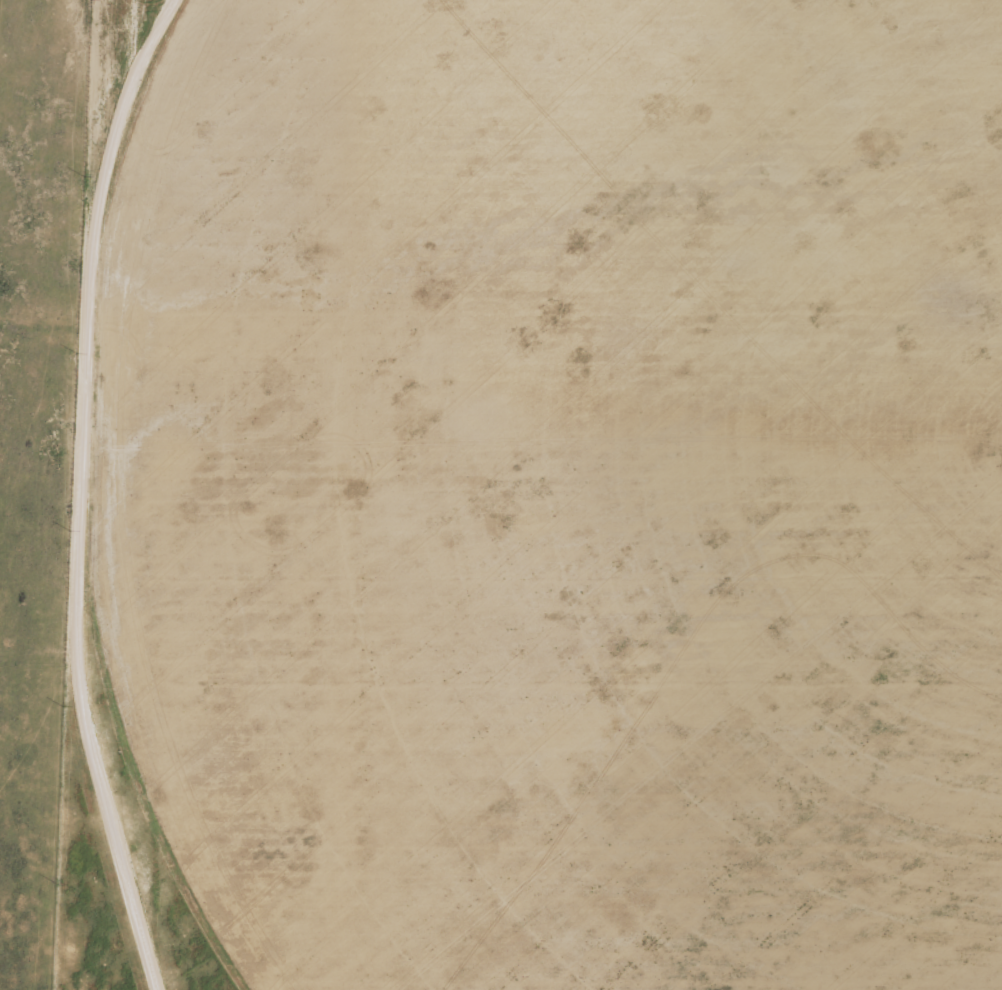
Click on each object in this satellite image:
crop: (587, 489)
road: (117, 494)

